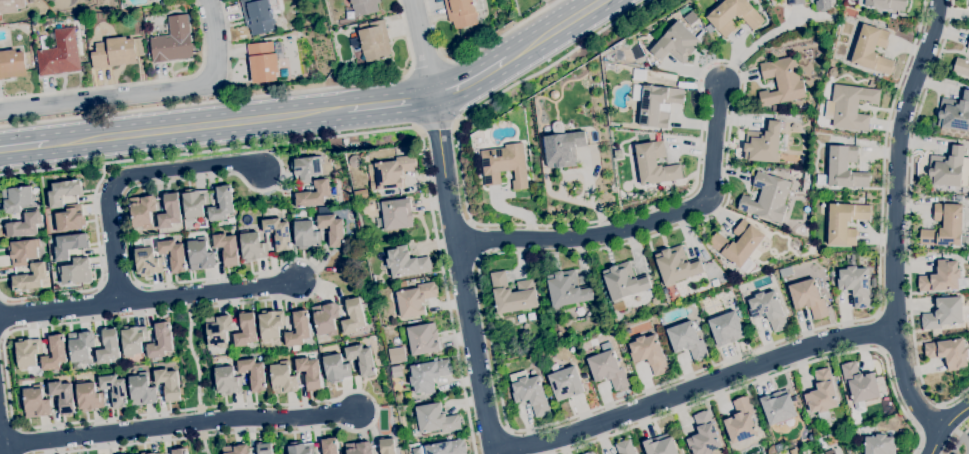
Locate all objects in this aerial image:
building: (147, 0)
building: (29, 1)
building: (796, 2)
building: (885, 4)
building: (968, 4)
building: (11, 5)
building: (822, 5)
building: (364, 6)
building: (463, 12)
building: (258, 16)
building: (733, 16)
building: (894, 16)
building: (709, 29)
road: (553, 30)
building: (467, 33)
building: (173, 41)
building: (375, 42)
building: (676, 43)
road: (755, 44)
building: (968, 46)
road: (229, 49)
road: (421, 49)
building: (115, 50)
building: (356, 50)
building: (872, 50)
road: (476, 51)
building: (60, 54)
building: (263, 61)
building: (12, 64)
building: (961, 67)
road: (425, 68)
building: (833, 72)
building: (880, 76)
road: (470, 81)
building: (781, 82)
road: (135, 83)
road: (353, 83)
building: (871, 84)
building: (682, 85)
road: (147, 94)
building: (554, 94)
road: (390, 104)
building: (657, 105)
building: (851, 106)
road: (111, 111)
building: (955, 113)
road: (198, 126)
road: (436, 126)
building: (791, 127)
building: (615, 136)
building: (344, 143)
building: (765, 143)
building: (364, 145)
road: (24, 146)
building: (563, 149)
road: (188, 152)
building: (781, 160)
building: (355, 161)
building: (655, 164)
building: (504, 165)
building: (845, 167)
building: (949, 168)
road: (51, 169)
building: (305, 169)
building: (393, 171)
road: (130, 177)
building: (63, 192)
building: (313, 195)
building: (361, 195)
building: (767, 198)
building: (17, 199)
building: (195, 203)
building: (222, 204)
building: (371, 208)
building: (142, 211)
building: (169, 212)
road: (901, 213)
building: (394, 215)
building: (71, 219)
road: (909, 220)
building: (787, 222)
building: (845, 223)
building: (24, 225)
road: (641, 225)
building: (944, 227)
building: (332, 230)
building: (278, 233)
building: (305, 235)
building: (160, 236)
building: (148, 243)
building: (70, 245)
building: (738, 245)
building: (252, 247)
building: (227, 248)
road: (598, 248)
building: (22, 252)
building: (173, 255)
building: (200, 255)
building: (852, 258)
building: (147, 262)
building: (406, 263)
building: (676, 266)
building: (76, 272)
building: (785, 272)
road: (463, 275)
building: (30, 278)
road: (103, 278)
building: (943, 278)
building: (873, 282)
building: (623, 283)
building: (715, 283)
building: (402, 285)
building: (856, 285)
building: (566, 289)
building: (743, 291)
building: (512, 294)
road: (148, 297)
building: (808, 298)
building: (415, 299)
road: (238, 300)
building: (655, 301)
building: (768, 310)
building: (943, 314)
building: (352, 317)
building: (325, 319)
building: (271, 325)
building: (726, 329)
building: (218, 330)
building: (245, 331)
building: (298, 331)
building: (423, 339)
building: (133, 340)
building: (687, 340)
building: (160, 341)
building: (81, 346)
building: (107, 347)
building: (571, 350)
building: (948, 352)
building: (27, 353)
building: (54, 354)
building: (649, 354)
building: (397, 355)
building: (361, 359)
building: (608, 368)
building: (336, 369)
building: (309, 372)
building: (396, 372)
road: (198, 373)
building: (253, 373)
building: (428, 375)
road: (769, 377)
building: (283, 378)
building: (227, 381)
building: (168, 384)
building: (565, 384)
building: (859, 385)
road: (697, 387)
building: (115, 390)
building: (141, 390)
building: (529, 392)
building: (821, 393)
building: (407, 395)
building: (62, 396)
building: (88, 397)
building: (36, 402)
building: (778, 407)
building: (435, 420)
road: (937, 422)
building: (741, 423)
road: (178, 426)
building: (861, 431)
road: (955, 432)
building: (703, 435)
building: (809, 436)
road: (510, 440)
road: (959, 441)
building: (879, 444)
building: (660, 445)
building: (329, 446)
building: (387, 446)
building: (625, 447)
building: (780, 447)
building: (300, 448)
building: (359, 448)
building: (447, 448)
building: (263, 449)
building: (236, 450)
building: (179, 451)
road: (967, 451)
building: (831, 452)
building: (143, 453)
building: (157, 453)
building: (589, 453)

